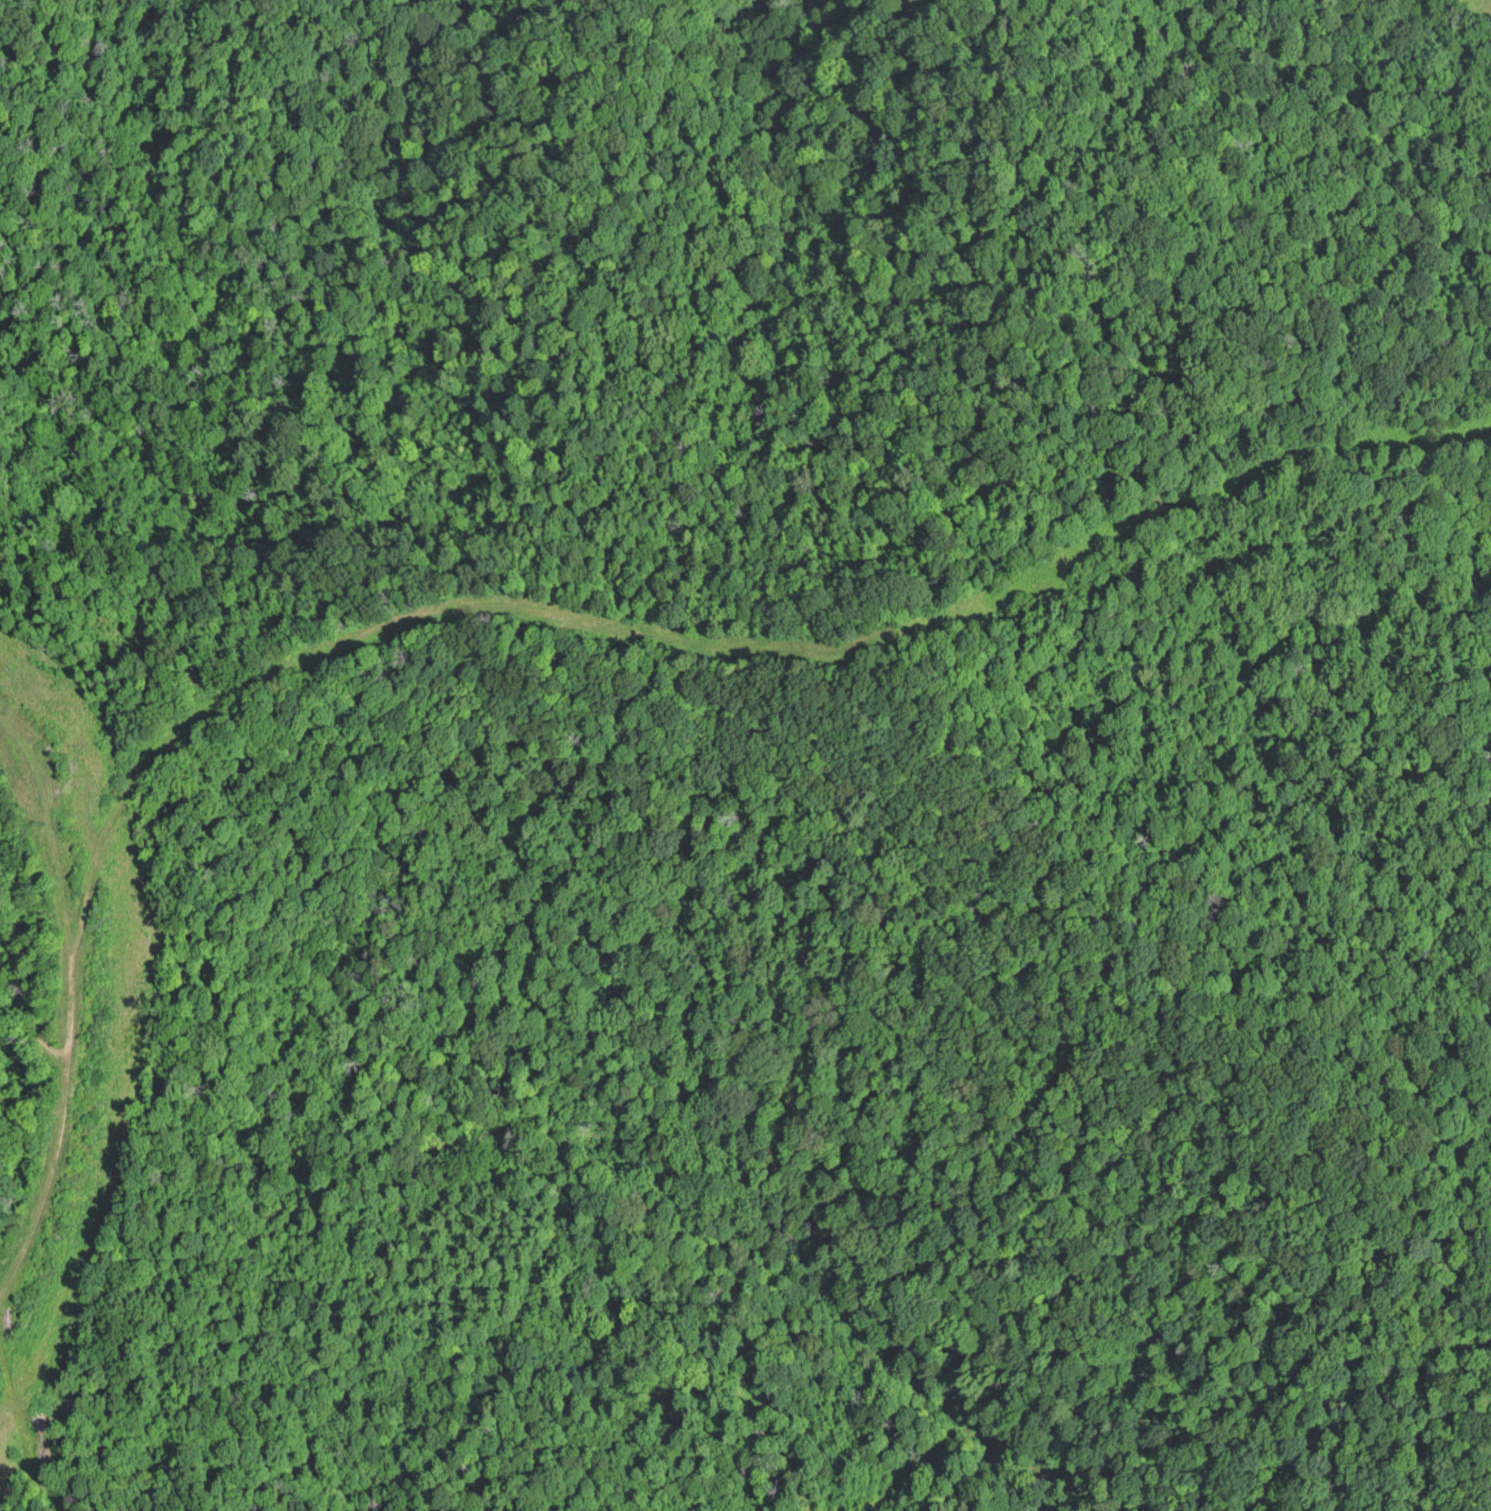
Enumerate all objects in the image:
road: (371, 655)
road: (2, 1184)

